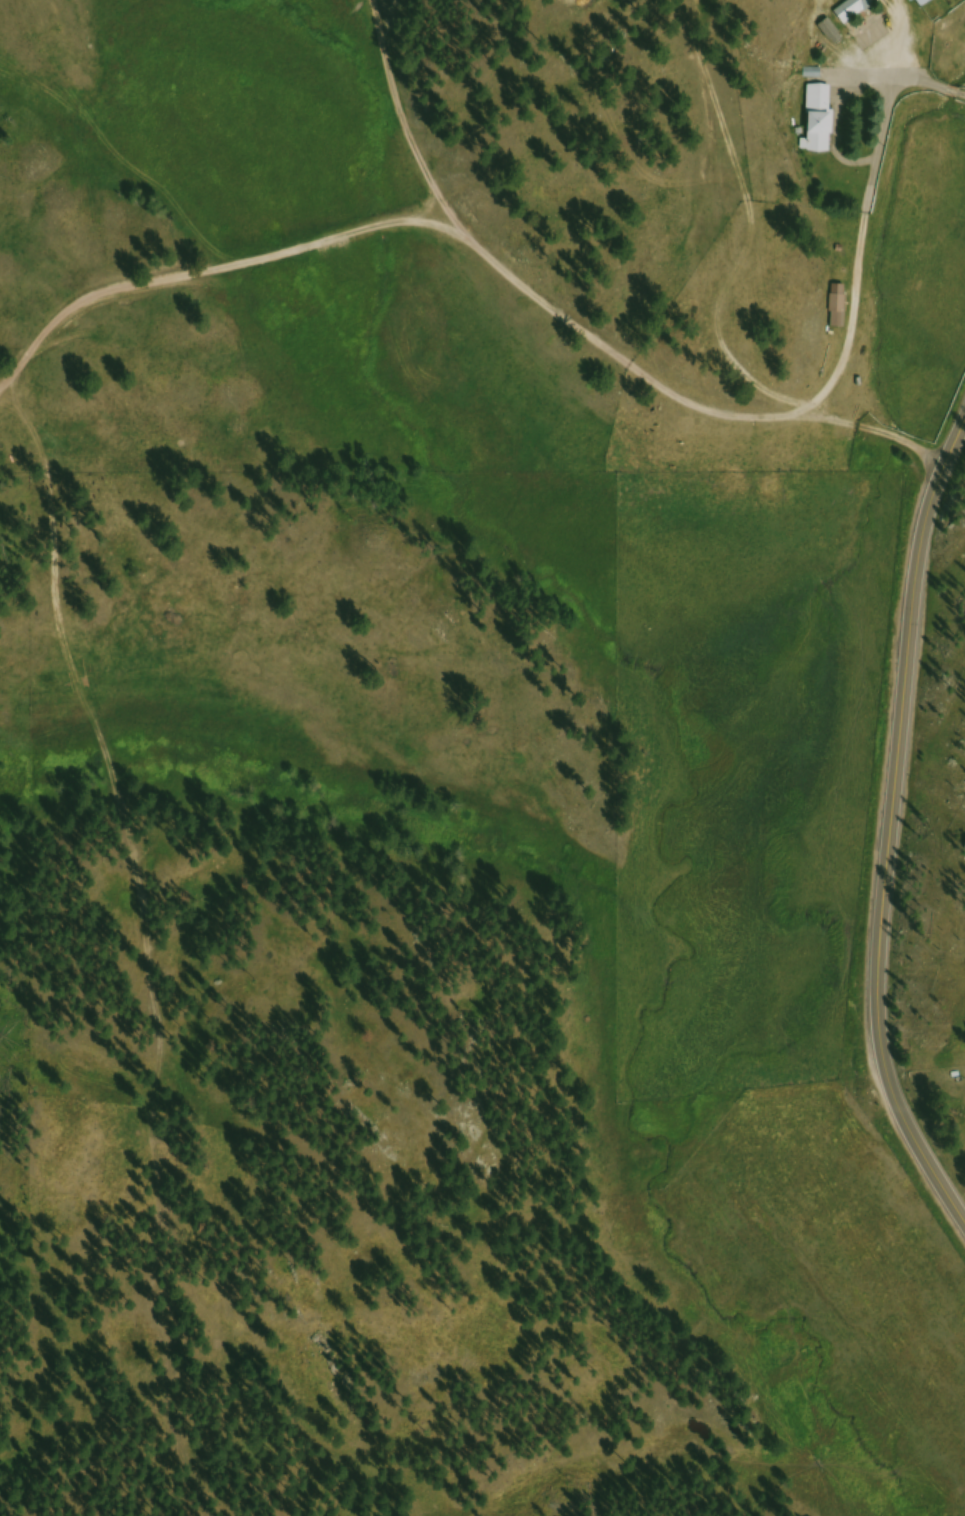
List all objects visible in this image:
building: (880, 0)
building: (929, 4)
building: (857, 11)
building: (823, 122)
road: (862, 233)
building: (836, 295)
road: (582, 327)
road: (891, 830)

